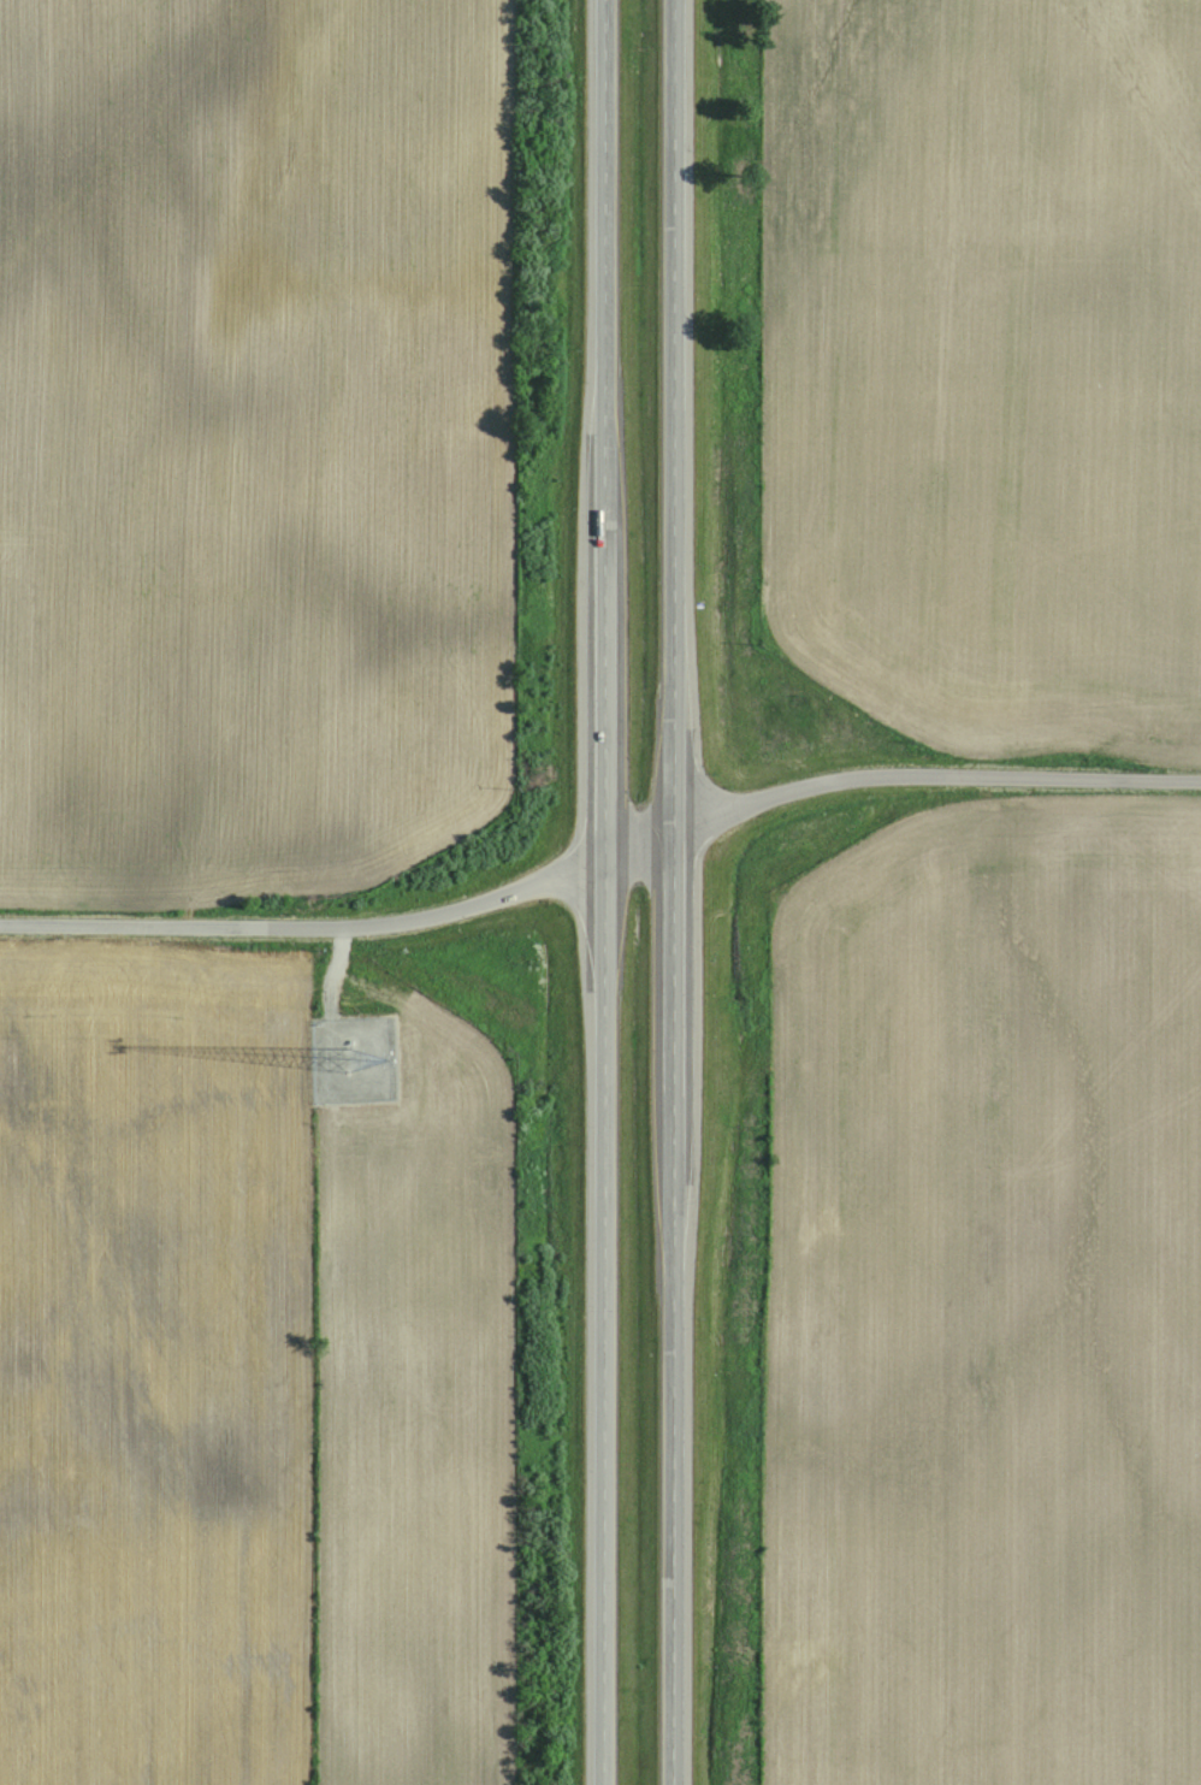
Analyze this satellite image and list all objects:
road: (933, 778)
road: (604, 892)
road: (673, 892)
road: (344, 924)

